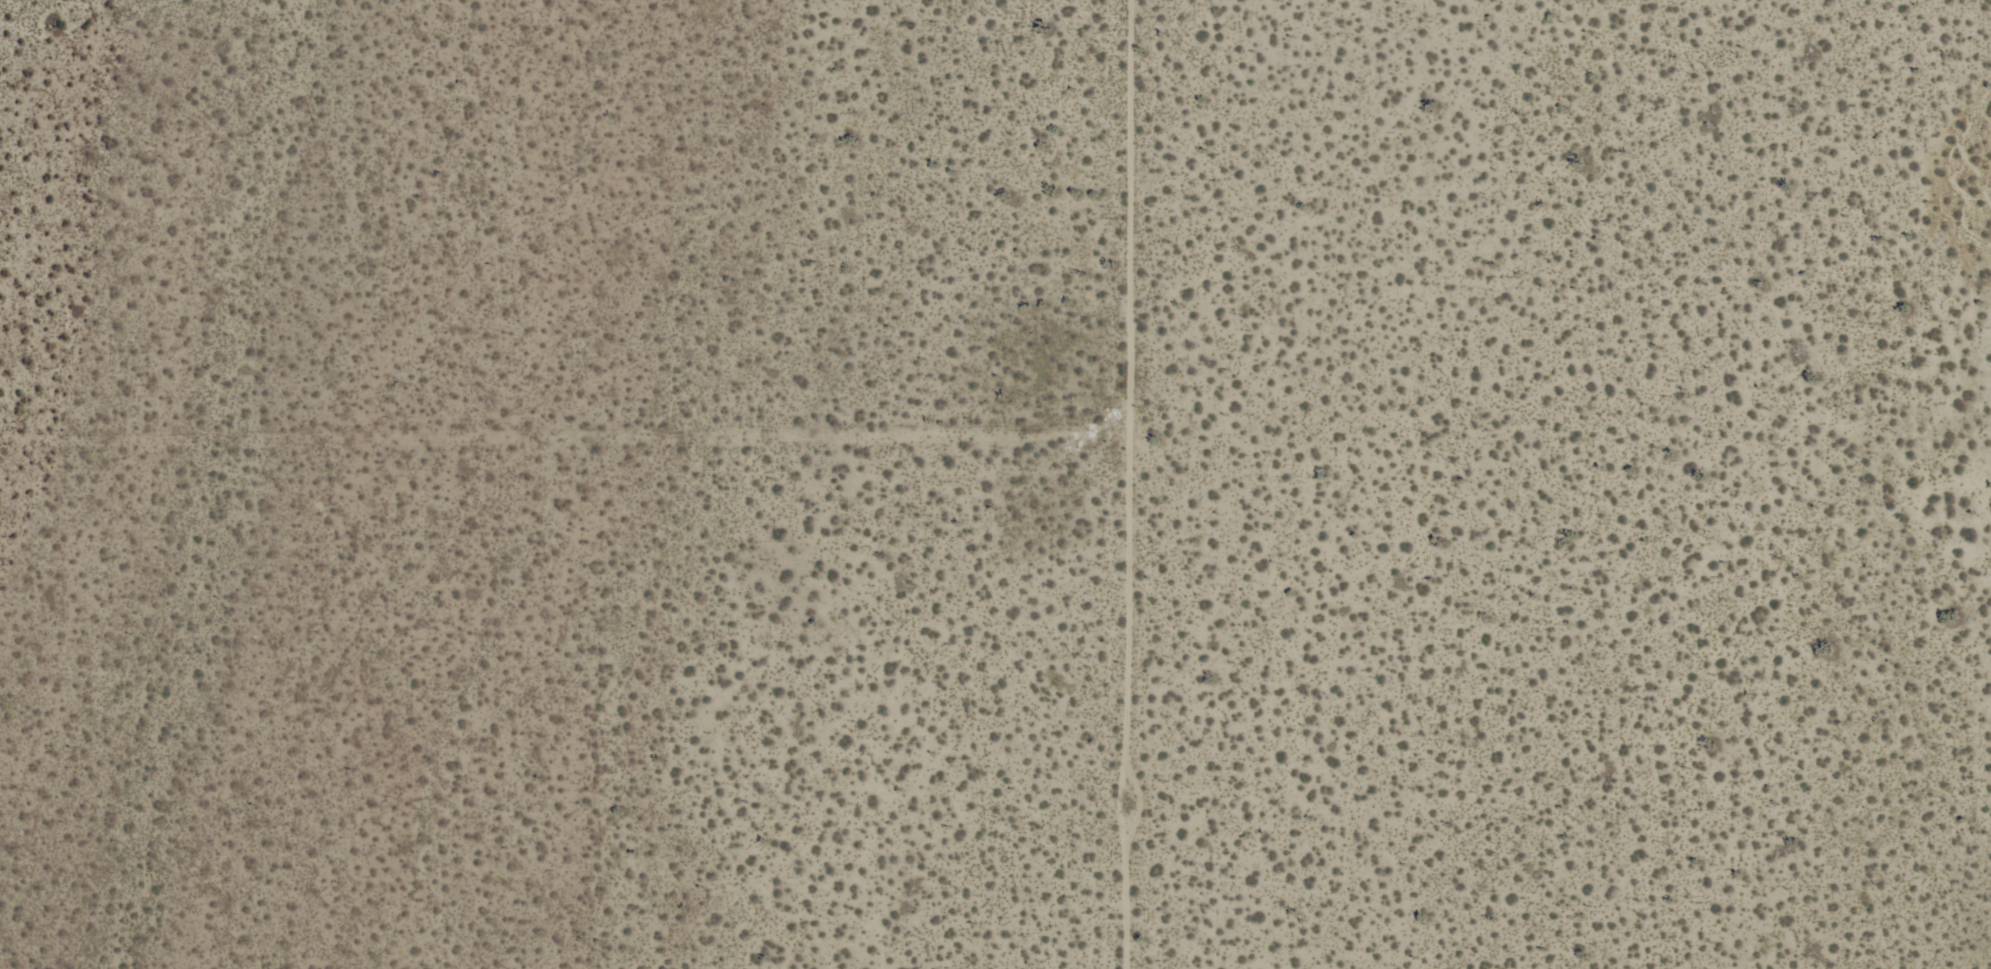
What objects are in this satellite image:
road: (1124, 228)
road: (1121, 712)

